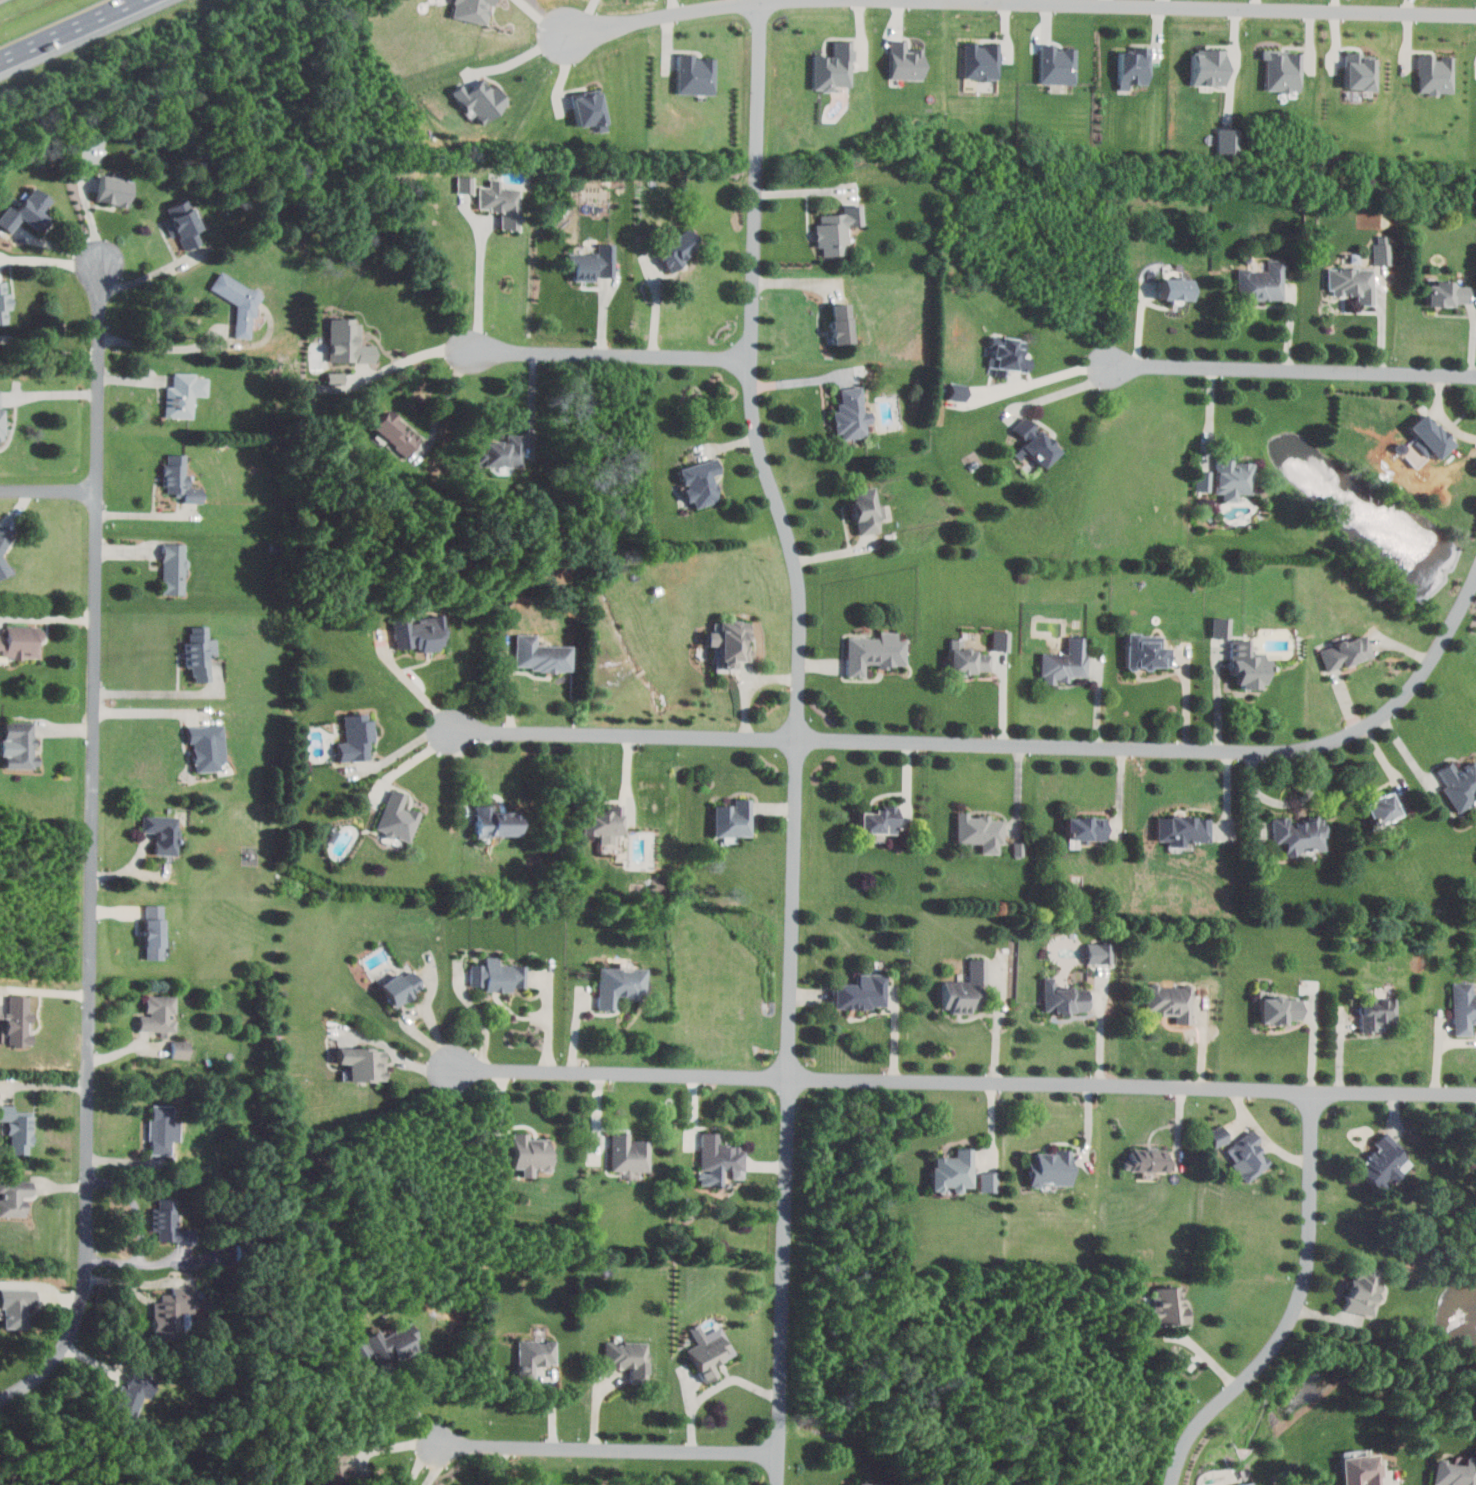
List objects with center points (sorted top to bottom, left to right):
road: (1189, 5)
building: (471, 10)
road: (697, 14)
road: (66, 29)
road: (525, 55)
building: (905, 61)
building: (981, 61)
building: (1057, 65)
building: (1133, 67)
building: (833, 68)
building: (1210, 68)
building: (1283, 70)
building: (1360, 71)
building: (1435, 74)
building: (695, 75)
building: (480, 100)
building: (590, 110)
building: (1228, 139)
building: (465, 183)
building: (113, 191)
building: (501, 201)
road: (90, 206)
building: (25, 213)
building: (182, 224)
building: (837, 228)
building: (677, 247)
building: (1381, 248)
road: (51, 261)
building: (592, 262)
road: (146, 275)
building: (1262, 281)
building: (1352, 281)
road: (478, 286)
building: (1176, 287)
building: (1446, 292)
building: (238, 302)
building: (2, 304)
building: (841, 321)
building: (347, 340)
road: (160, 347)
road: (48, 352)
road: (612, 354)
building: (1005, 354)
road: (418, 355)
road: (1295, 366)
road: (1050, 377)
road: (800, 380)
road: (1068, 390)
building: (958, 391)
road: (50, 393)
building: (182, 395)
road: (533, 395)
road: (1212, 410)
building: (852, 412)
road: (1444, 413)
building: (1, 423)
building: (395, 431)
building: (1430, 434)
building: (1035, 441)
building: (504, 451)
building: (173, 474)
building: (1234, 476)
building: (1204, 479)
building: (701, 481)
road: (48, 491)
building: (866, 509)
building: (4, 549)
building: (174, 569)
building: (1221, 626)
building: (418, 632)
building: (16, 639)
building: (1001, 639)
building: (730, 641)
building: (1147, 650)
building: (875, 651)
building: (1345, 651)
building: (195, 653)
building: (539, 653)
building: (967, 657)
building: (1065, 661)
building: (1248, 663)
road: (156, 683)
road: (414, 684)
road: (749, 686)
road: (1004, 695)
road: (1189, 697)
road: (1100, 698)
road: (1218, 703)
road: (148, 712)
building: (356, 736)
road: (798, 741)
road: (1006, 743)
building: (203, 745)
building: (16, 746)
road: (404, 748)
road: (1410, 753)
road: (413, 760)
road: (908, 769)
road: (463, 774)
building: (1460, 783)
road: (628, 786)
building: (1383, 807)
building: (397, 816)
building: (733, 817)
building: (879, 819)
building: (495, 821)
building: (604, 822)
building: (1085, 829)
building: (1183, 829)
building: (980, 830)
building: (161, 833)
building: (1300, 834)
road: (94, 849)
building: (153, 931)
building: (1099, 952)
building: (496, 975)
building: (617, 985)
building: (401, 986)
building: (965, 988)
road: (46, 991)
building: (862, 991)
building: (1063, 997)
building: (1170, 1001)
building: (1463, 1007)
building: (1280, 1009)
building: (1377, 1012)
road: (482, 1016)
building: (158, 1018)
road: (550, 1019)
building: (17, 1020)
road: (999, 1021)
road: (415, 1028)
road: (1103, 1028)
road: (897, 1032)
road: (1205, 1035)
road: (1315, 1042)
building: (180, 1048)
road: (399, 1054)
building: (364, 1064)
road: (963, 1082)
building: (161, 1130)
building: (17, 1132)
building: (1217, 1135)
building: (628, 1153)
building: (530, 1154)
building: (1247, 1155)
building: (718, 1159)
building: (1147, 1159)
building: (1381, 1160)
building: (1051, 1168)
building: (953, 1170)
building: (988, 1181)
building: (14, 1197)
building: (165, 1220)
road: (142, 1230)
building: (1364, 1290)
building: (1168, 1305)
building: (14, 1307)
road: (1297, 1309)
building: (170, 1312)
building: (379, 1349)
building: (708, 1350)
building: (534, 1357)
building: (627, 1358)
road: (714, 1388)
building: (131, 1394)
road: (408, 1395)
road: (610, 1451)
road: (420, 1461)
road: (503, 1467)
road: (436, 1468)
building: (1361, 1470)
building: (1455, 1472)
building: (1247, 1483)
building: (867, 1484)

